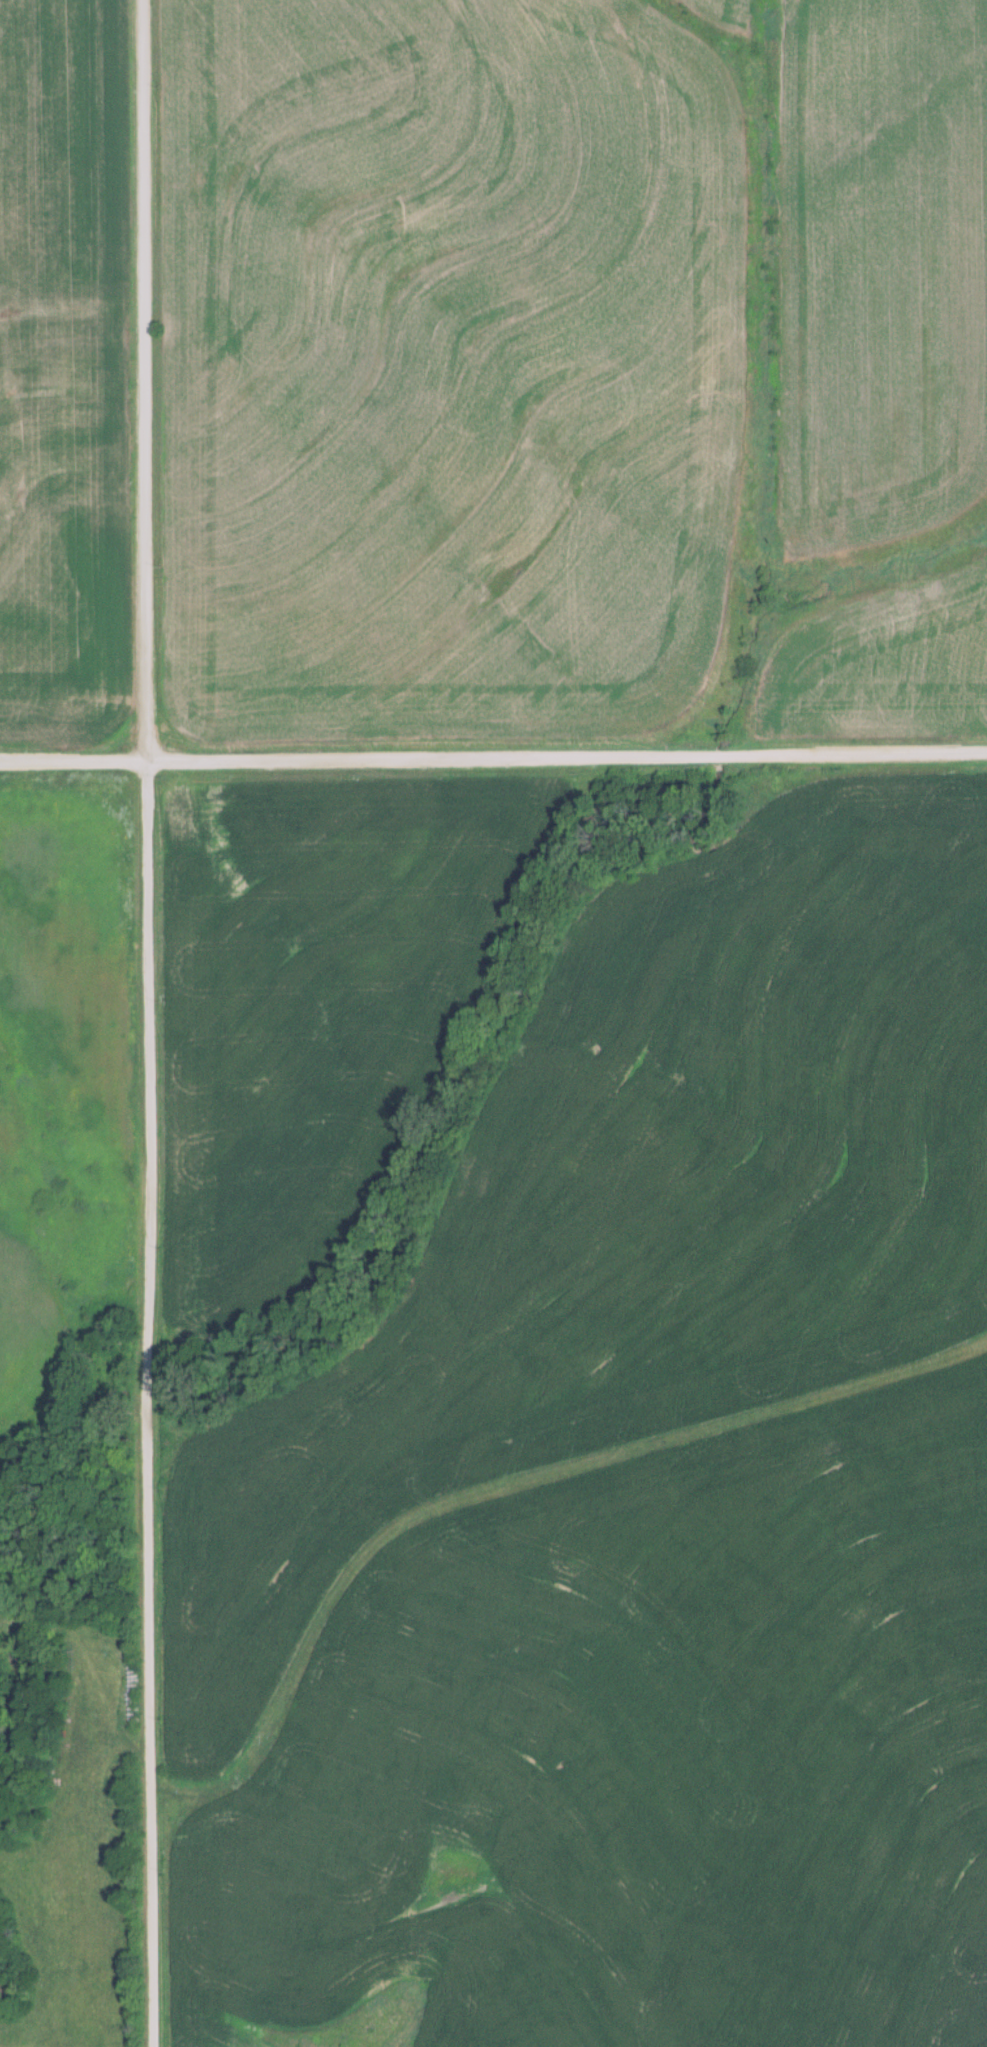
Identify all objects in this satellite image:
road: (143, 381)
road: (570, 757)
road: (77, 762)
road: (143, 1404)

